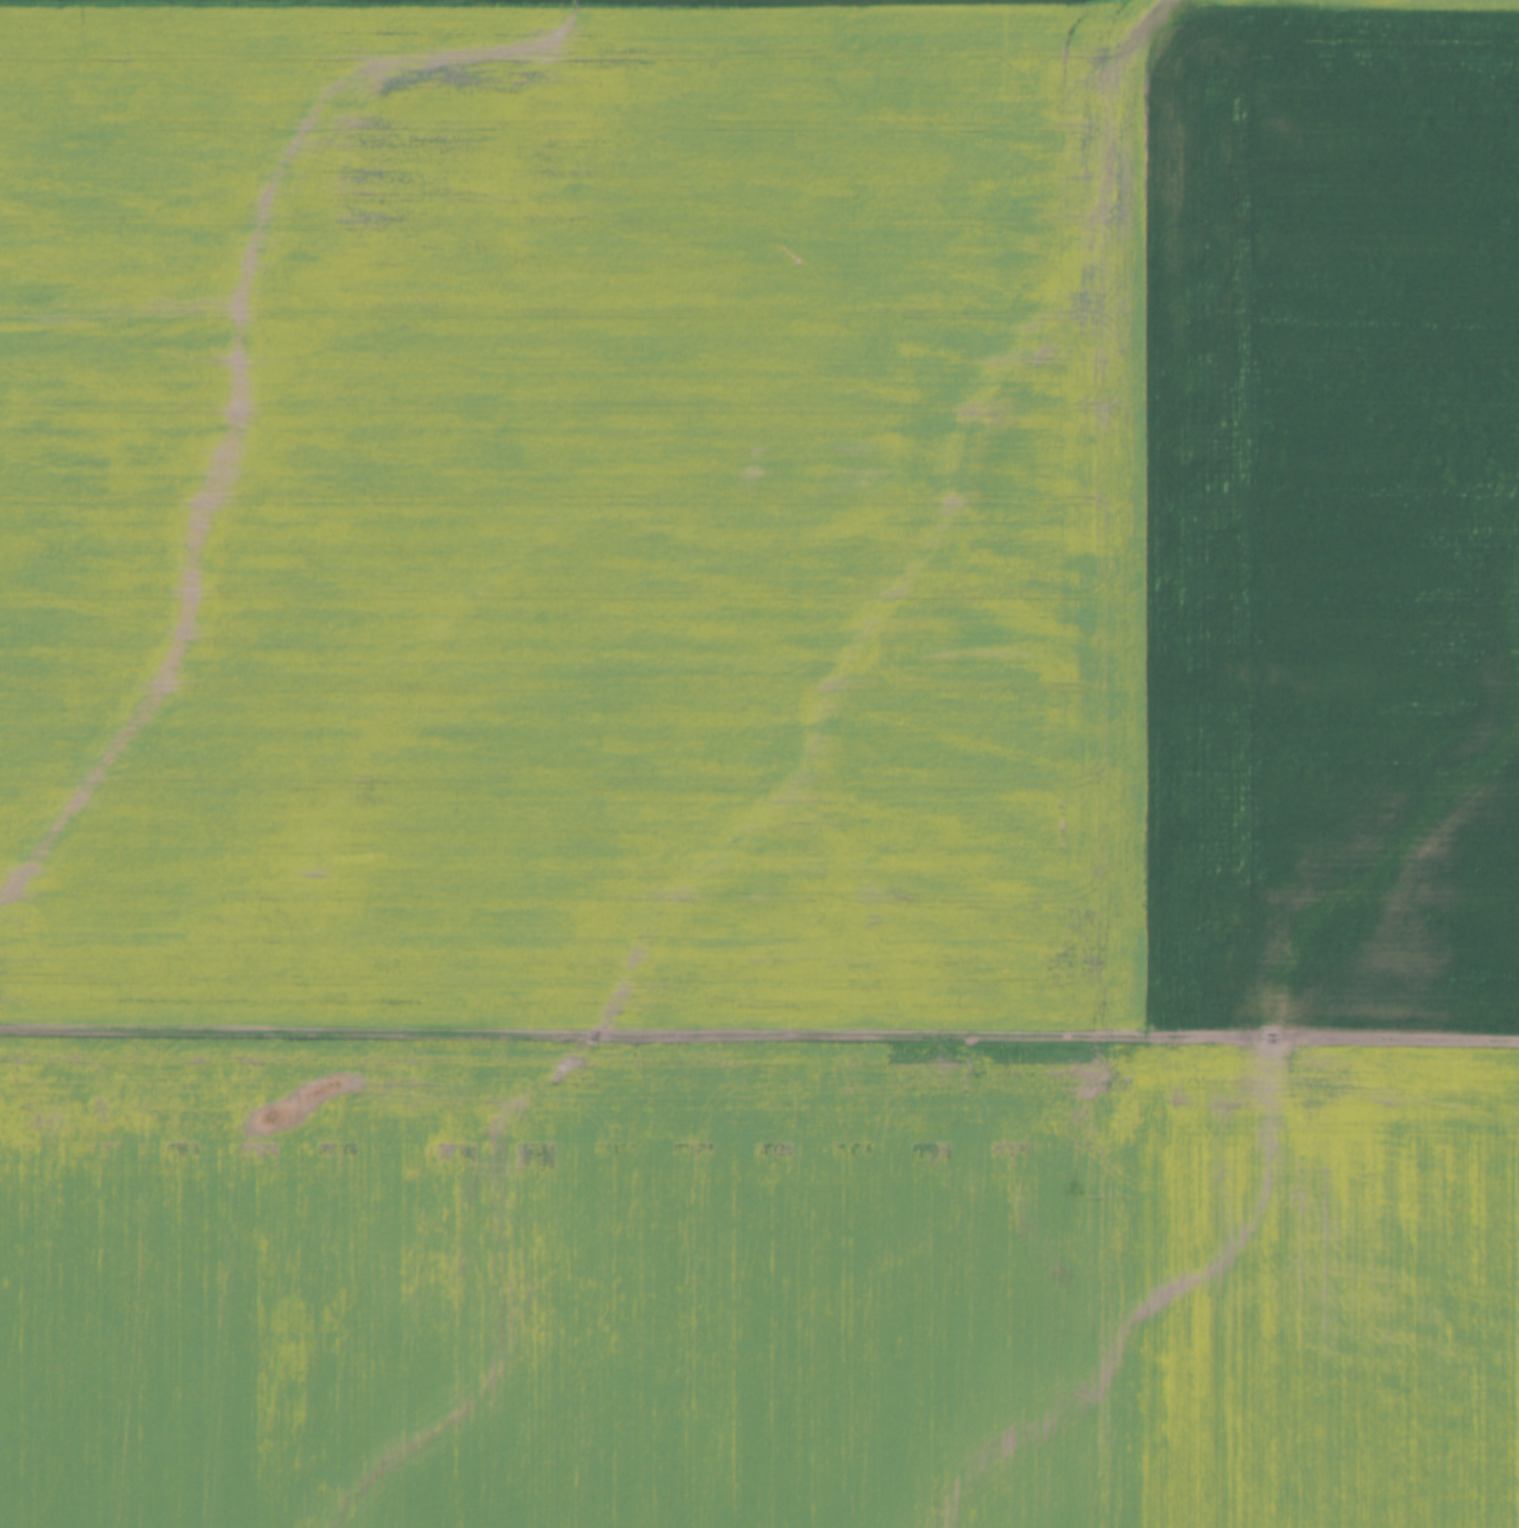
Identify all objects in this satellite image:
road: (759, 1027)

